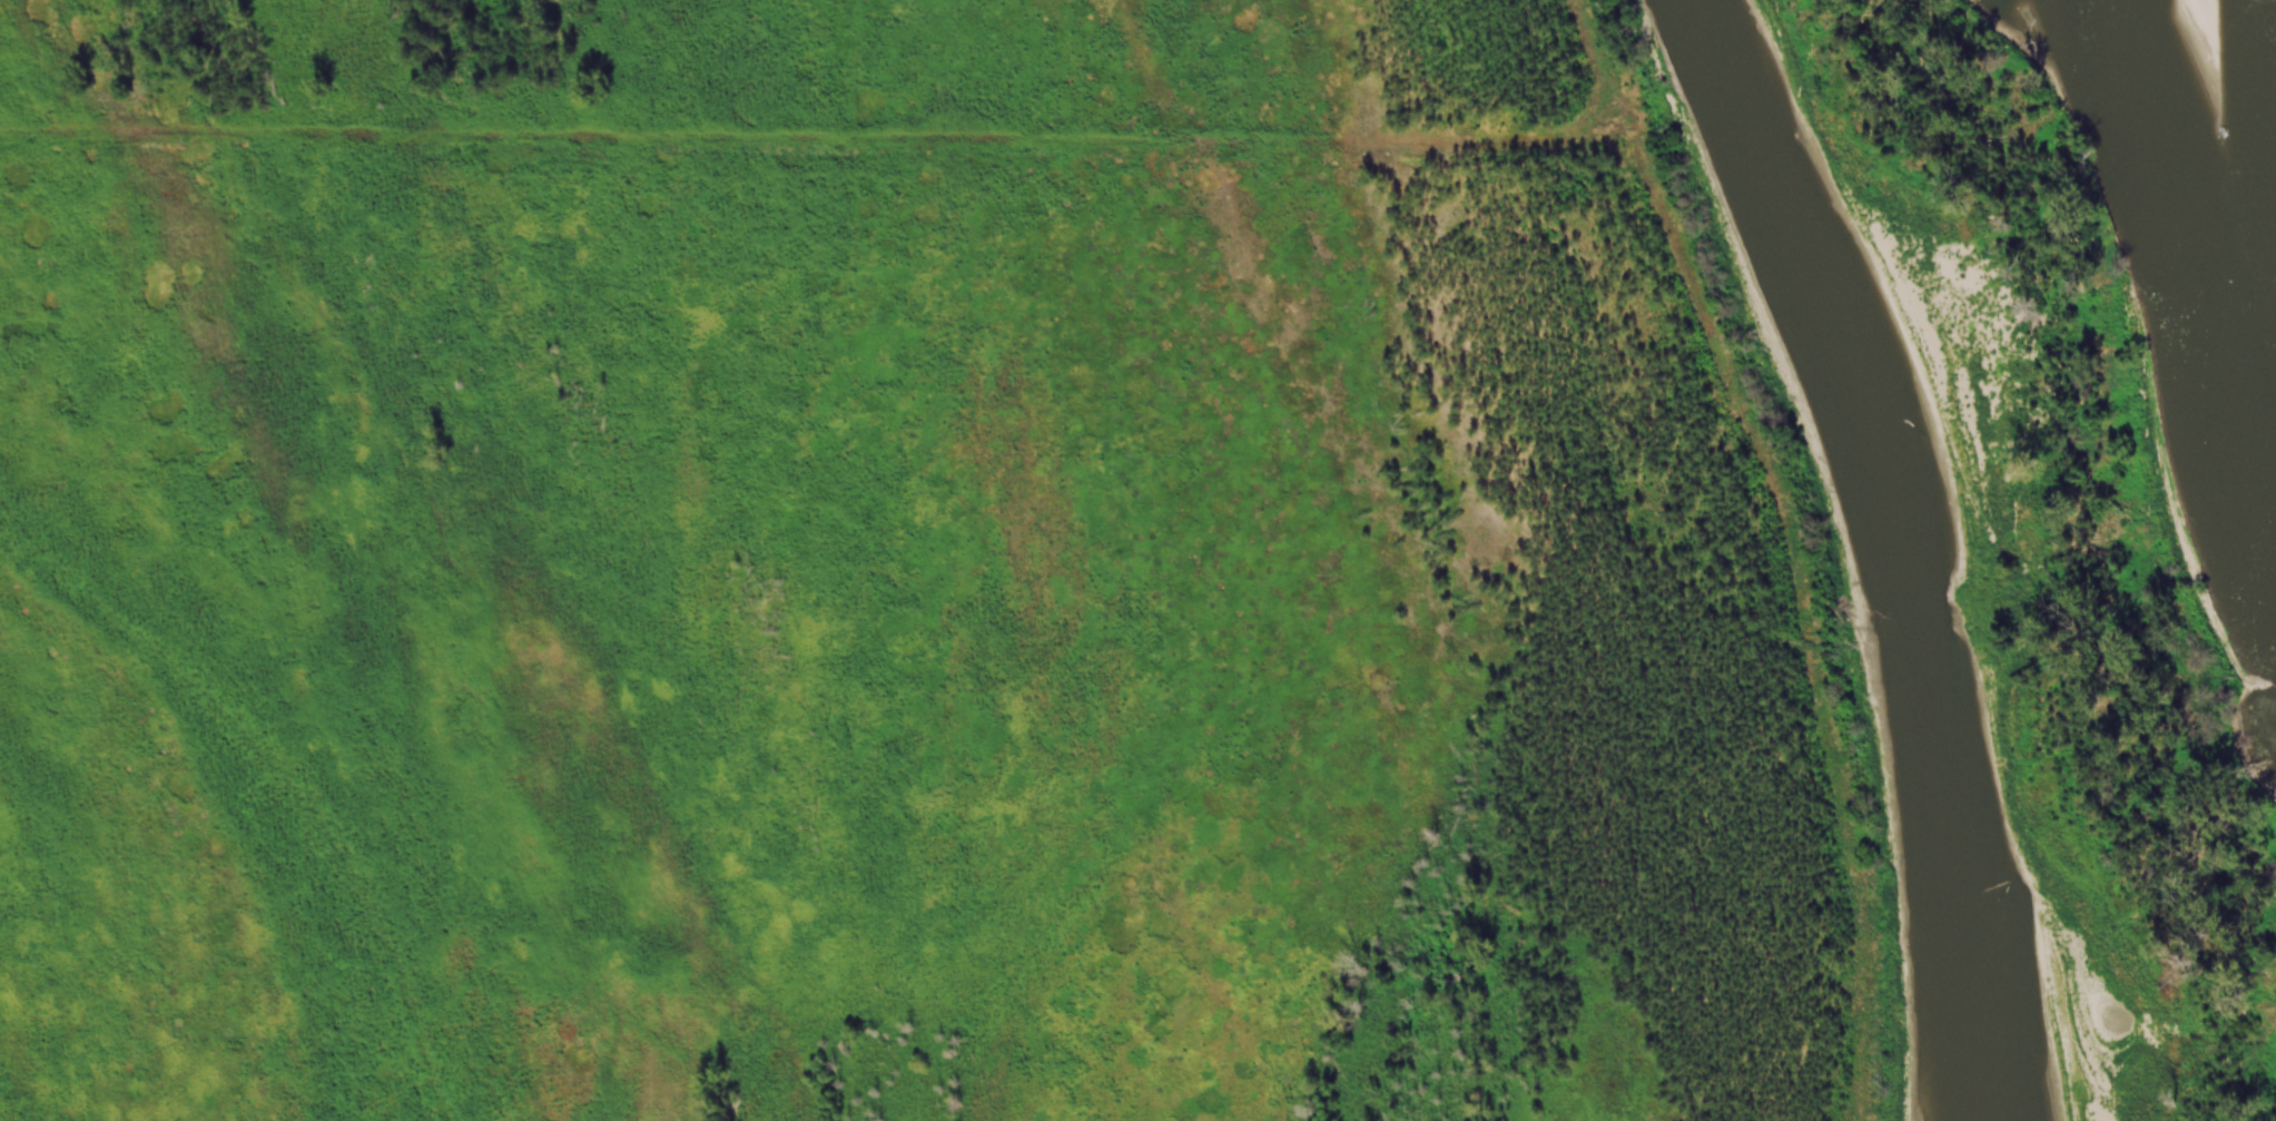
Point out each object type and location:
road: (1606, 60)
road: (815, 131)
road: (1805, 606)

